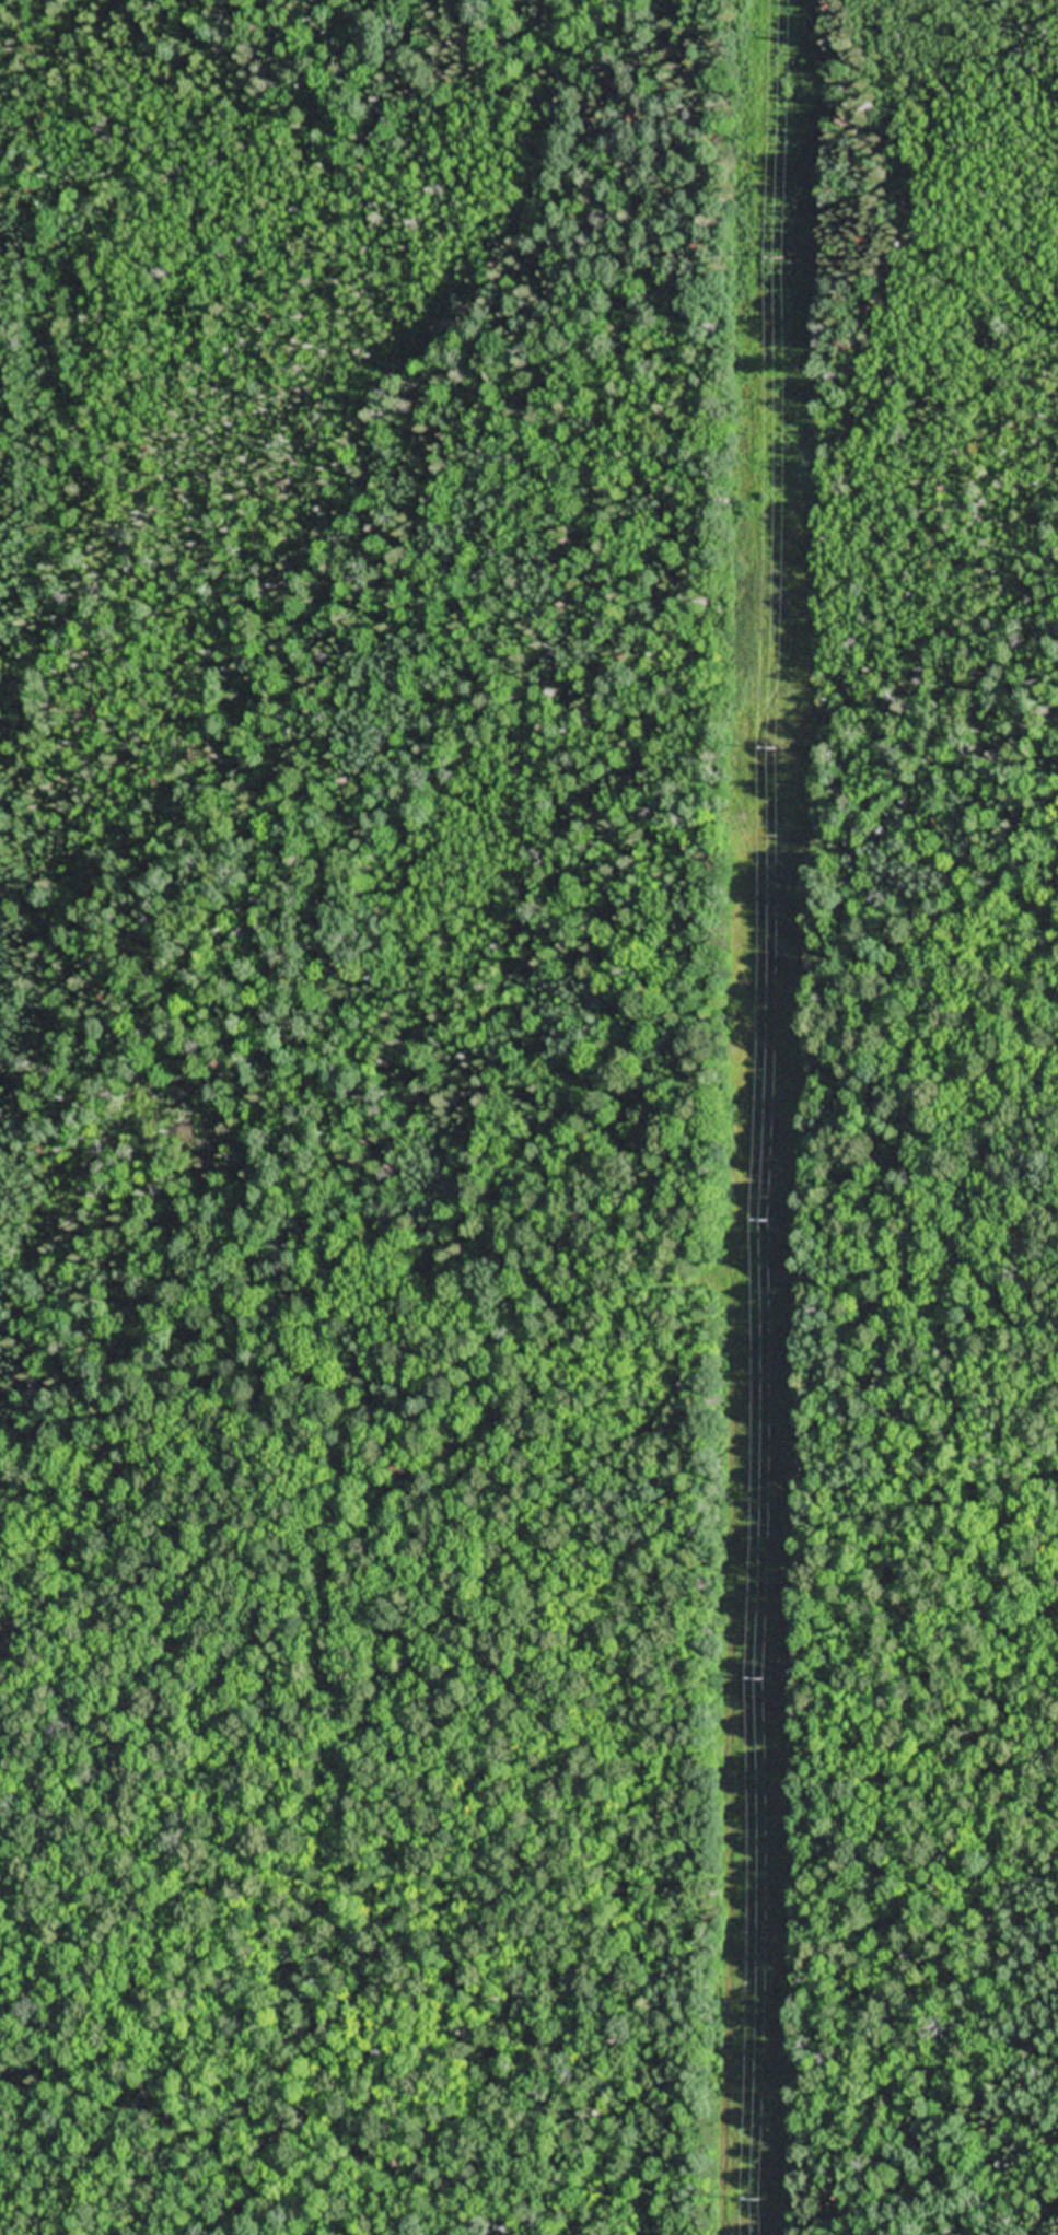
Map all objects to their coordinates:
power tower: (782, 258)
power tower: (776, 749)
power tower: (771, 1224)
power tower: (763, 1678)
power tower: (757, 2198)

